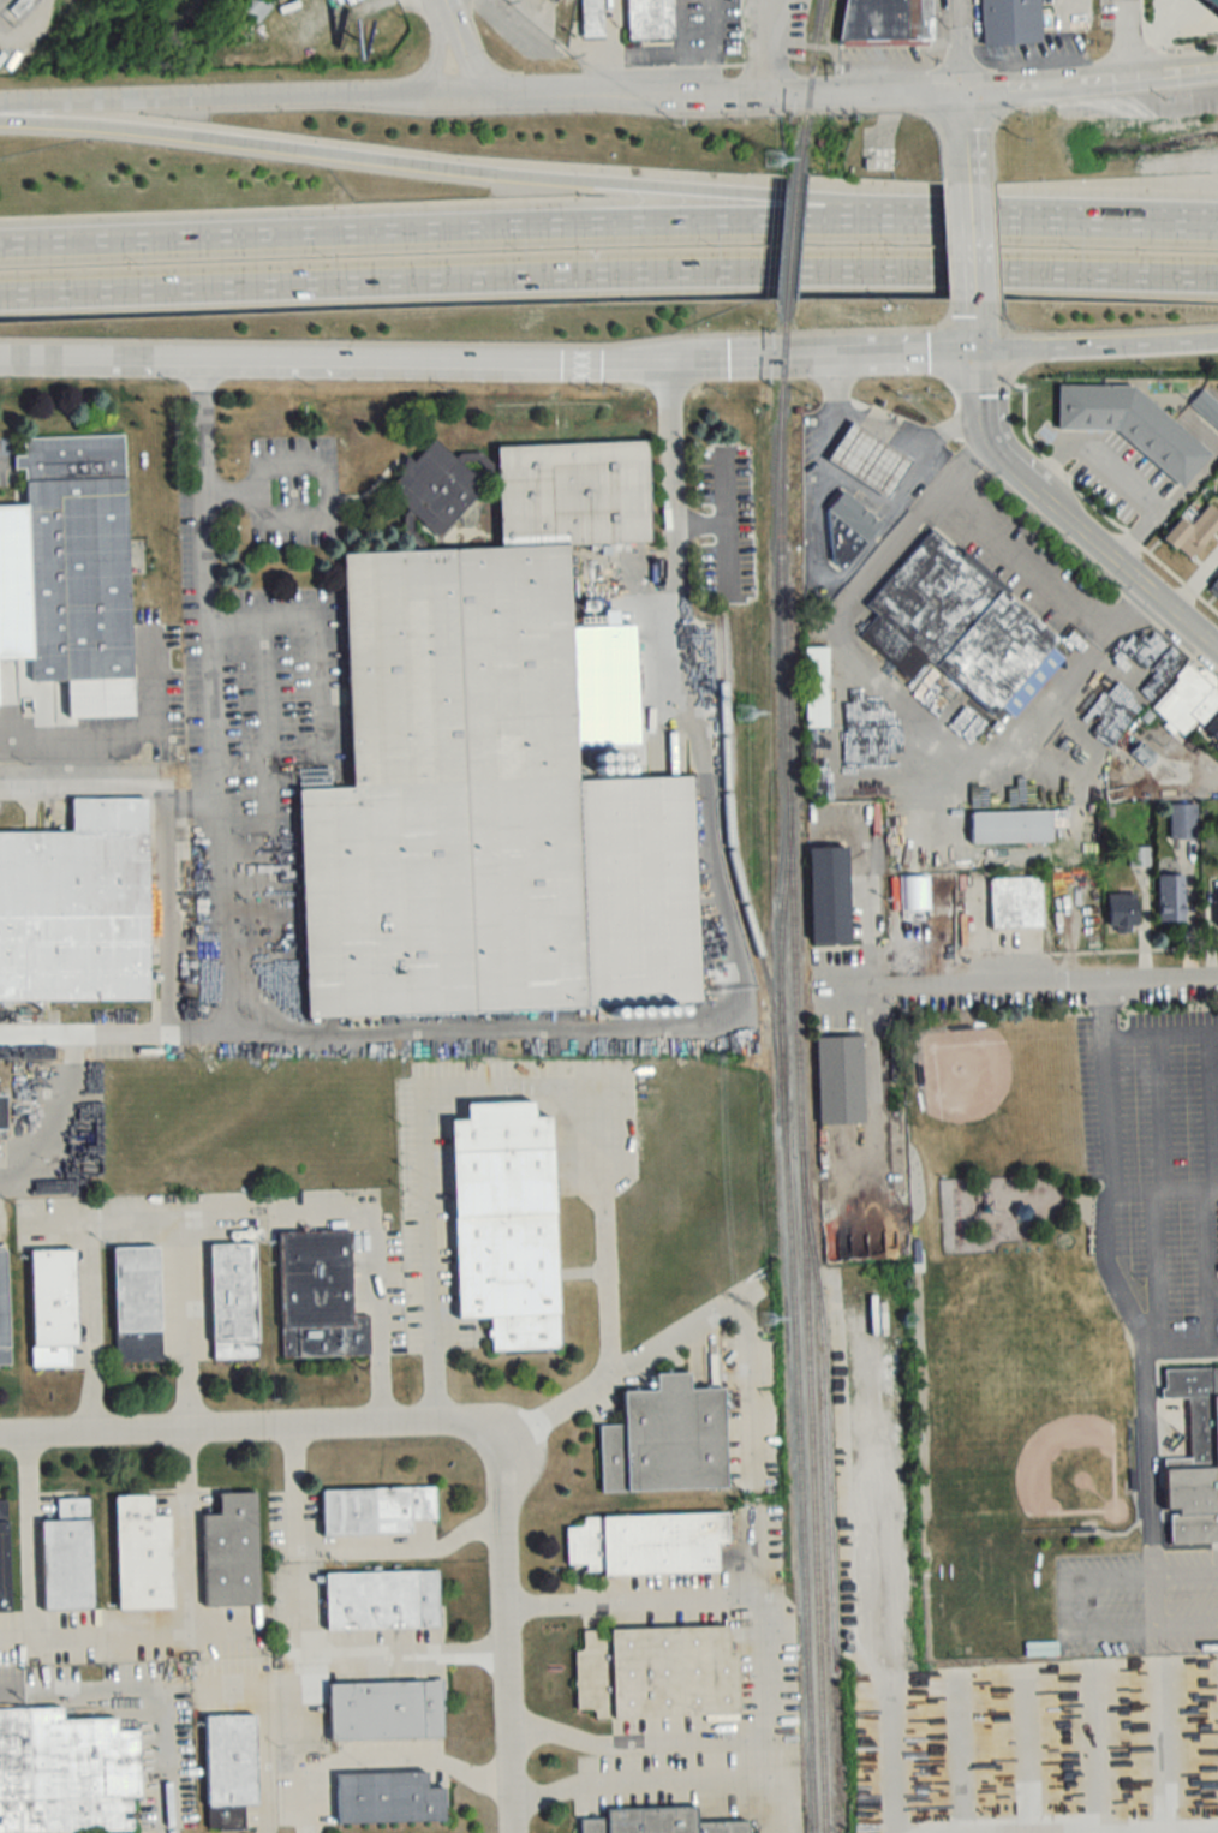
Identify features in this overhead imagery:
building: (554, 0)
building: (1213, 2)
road: (442, 5)
building: (19, 6)
building: (255, 8)
road: (1067, 10)
building: (591, 18)
building: (649, 19)
building: (1010, 22)
building: (889, 23)
road: (1122, 37)
road: (969, 44)
road: (1187, 46)
road: (710, 47)
road: (777, 47)
road: (459, 52)
road: (434, 54)
road: (1050, 54)
railway: (813, 64)
road: (611, 71)
road: (1136, 86)
road: (846, 94)
road: (235, 98)
road: (971, 142)
power tower: (774, 156)
road: (446, 167)
railway: (794, 220)
road: (1055, 225)
road: (446, 229)
road: (972, 253)
road: (608, 271)
road: (1095, 346)
road: (877, 356)
road: (741, 359)
road: (351, 362)
building: (1206, 407)
road: (888, 424)
building: (1132, 425)
building: (868, 458)
road: (322, 465)
road: (1014, 474)
building: (435, 486)
road: (859, 490)
road: (1098, 507)
building: (848, 526)
building: (1193, 532)
building: (77, 556)
road: (1021, 557)
road: (1099, 574)
road: (209, 575)
building: (1214, 587)
road: (1127, 609)
road: (1182, 622)
building: (960, 627)
building: (816, 686)
road: (856, 687)
building: (1187, 700)
power tower: (744, 712)
building: (1212, 729)
road: (1014, 734)
road: (98, 740)
road: (105, 778)
building: (494, 781)
building: (1182, 820)
building: (1010, 826)
railway: (732, 848)
building: (914, 892)
building: (829, 896)
building: (1170, 898)
building: (1015, 902)
road: (165, 903)
building: (77, 906)
building: (1122, 912)
road: (1051, 978)
road: (697, 1019)
road: (49, 1029)
road: (1162, 1034)
road: (73, 1046)
railway: (798, 1071)
building: (838, 1079)
road: (1106, 1085)
road: (554, 1086)
road: (1163, 1193)
road: (136, 1222)
building: (506, 1224)
road: (372, 1270)
building: (318, 1296)
building: (233, 1301)
building: (137, 1304)
building: (53, 1306)
road: (742, 1306)
building: (4, 1312)
power tower: (768, 1318)
railway: (790, 1325)
park: (1007, 1335)
road: (246, 1429)
building: (665, 1440)
building: (1194, 1458)
road: (1151, 1507)
building: (375, 1511)
road: (303, 1530)
road: (190, 1533)
road: (29, 1538)
building: (647, 1544)
road: (405, 1547)
building: (232, 1553)
building: (141, 1556)
building: (4, 1558)
building: (66, 1558)
road: (1186, 1572)
building: (382, 1601)
road: (1187, 1628)
road: (256, 1632)
road: (503, 1643)
road: (766, 1662)
building: (657, 1674)
road: (144, 1690)
building: (386, 1710)
road: (891, 1754)
road: (369, 1760)
building: (231, 1762)
building: (66, 1773)
road: (635, 1778)
road: (764, 1784)
building: (388, 1798)
building: (658, 1822)

